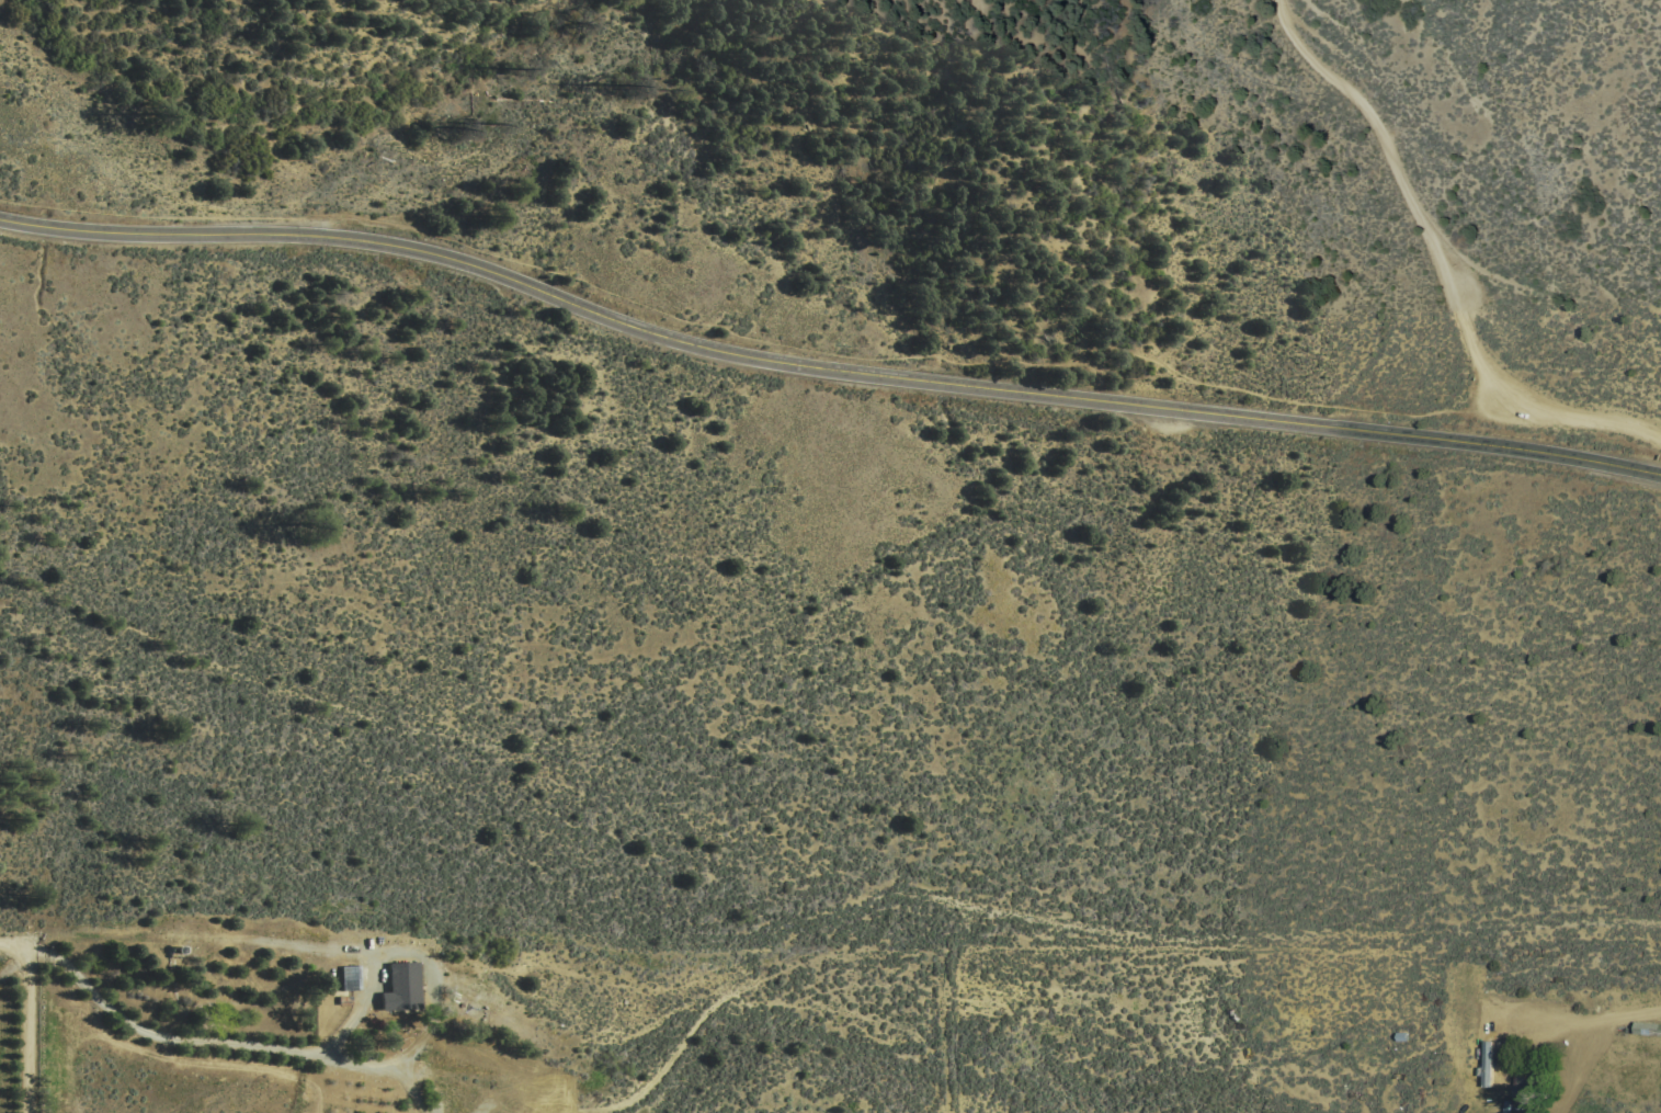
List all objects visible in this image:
road: (1444, 261)
road: (823, 366)
road: (16, 945)
road: (16, 963)
building: (401, 985)
road: (1593, 1020)
building: (1645, 1030)
road: (32, 1031)
road: (200, 1042)
building: (1484, 1065)
building: (1524, 1084)

